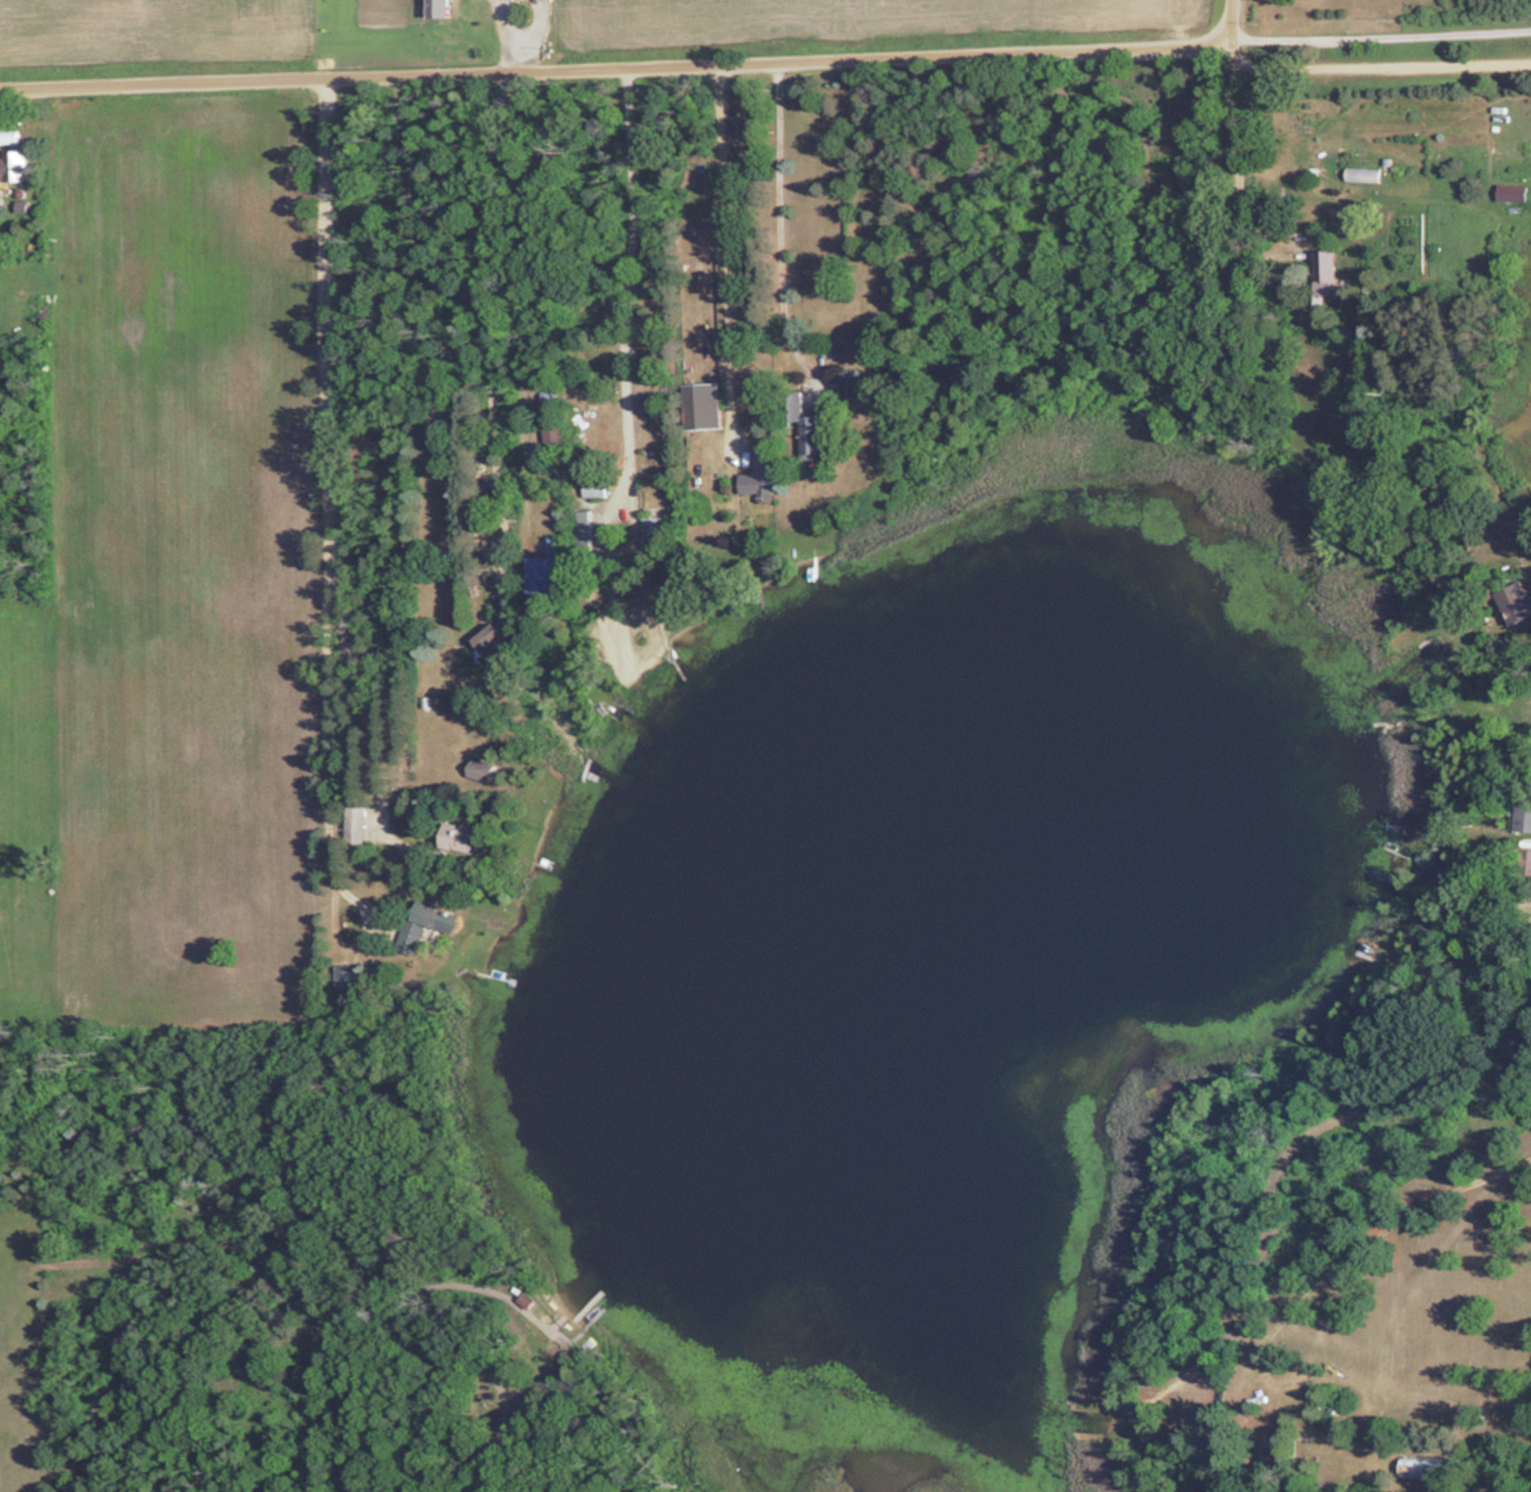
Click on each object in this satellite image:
building: (440, 10)
road: (1228, 20)
road: (1367, 63)
road: (609, 69)
road: (1211, 161)
building: (14, 165)
building: (1512, 192)
road: (780, 225)
road: (728, 256)
building: (1323, 275)
building: (849, 382)
building: (548, 397)
building: (703, 405)
building: (806, 425)
building: (762, 472)
road: (332, 473)
building: (595, 486)
road: (323, 494)
building: (653, 536)
building: (547, 569)
building: (1516, 602)
building: (490, 638)
building: (481, 769)
building: (1524, 818)
building: (355, 824)
building: (459, 836)
building: (1526, 861)
building: (420, 924)
building: (525, 1301)
building: (1422, 1467)

